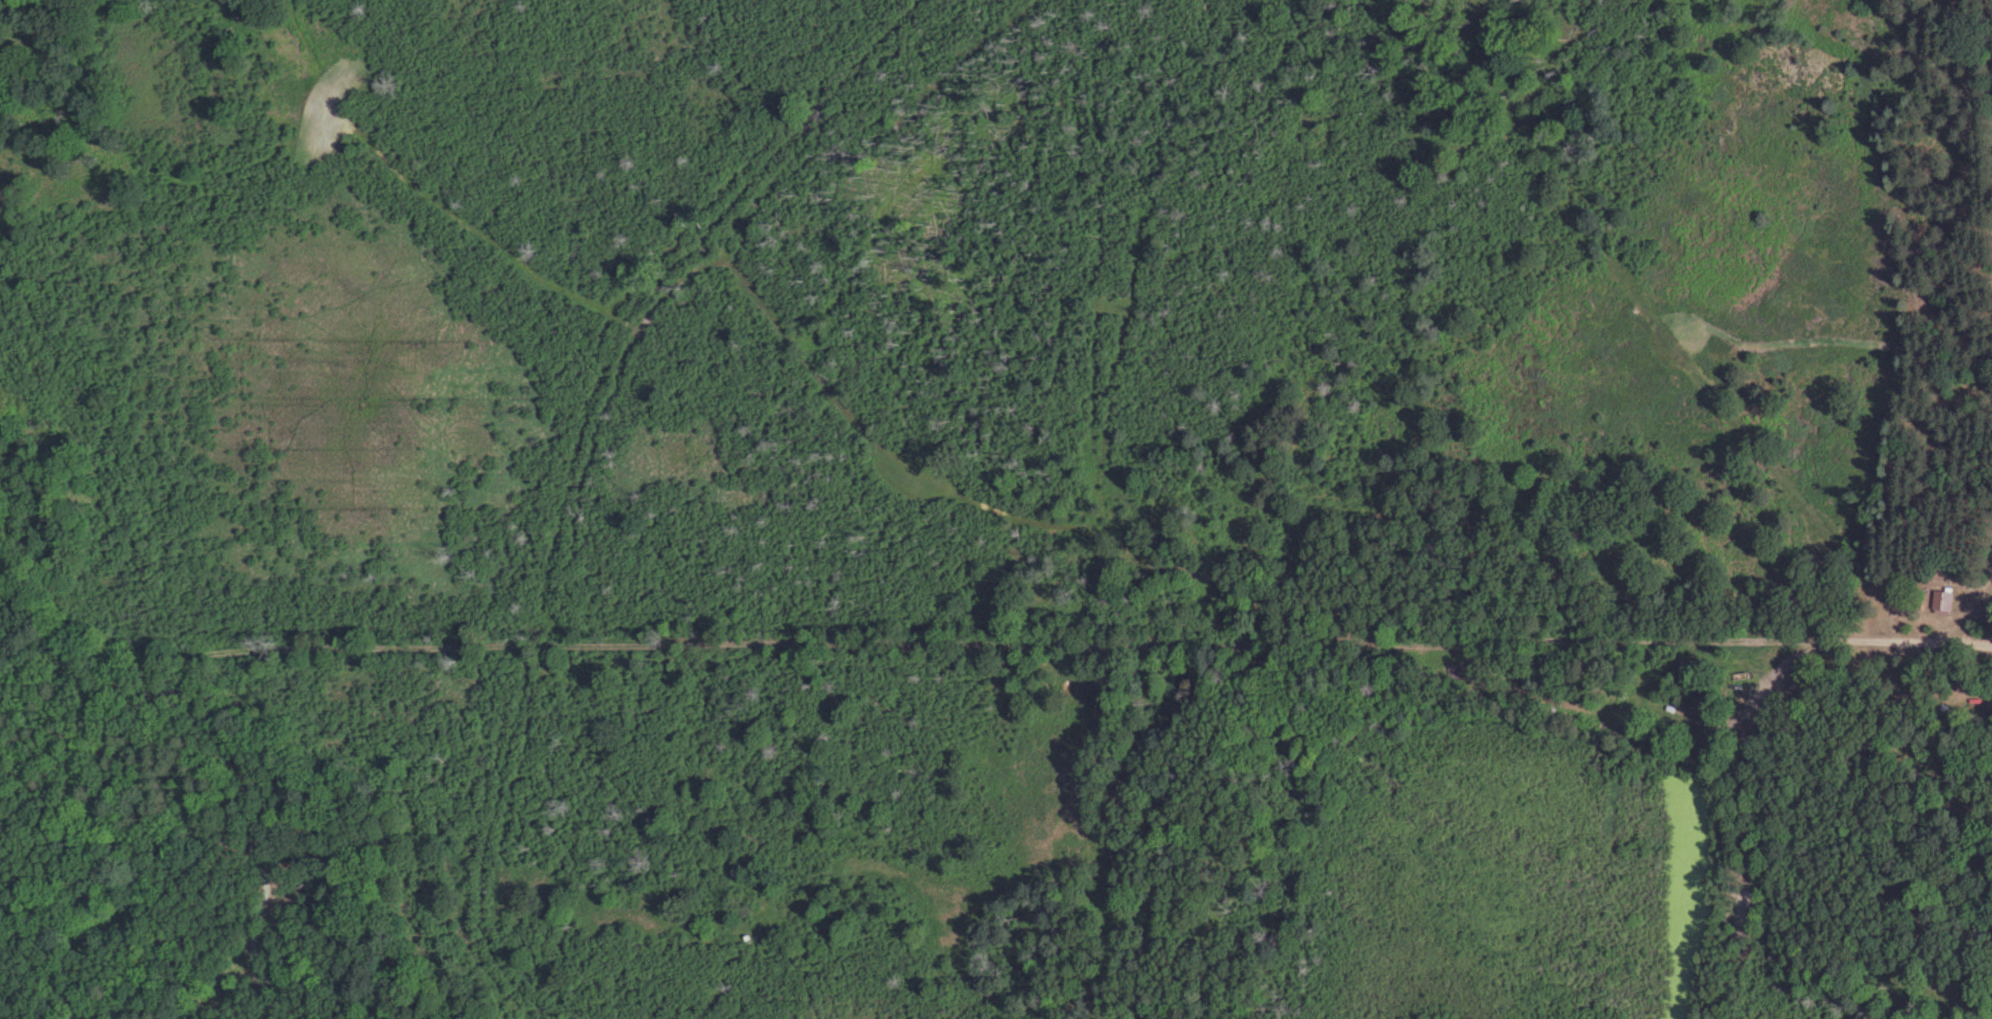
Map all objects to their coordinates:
road: (1990, 14)
road: (792, 343)
road: (1988, 578)
building: (1942, 599)
road: (1026, 642)
road: (31, 658)
building: (1454, 670)
road: (251, 792)

